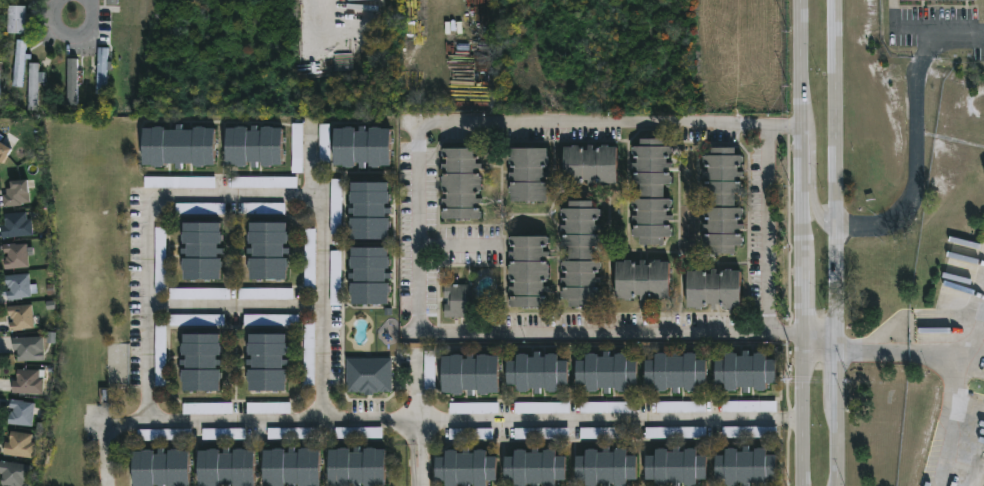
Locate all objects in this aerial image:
building: (937, 0)
building: (112, 3)
road: (324, 12)
road: (918, 28)
building: (20, 30)
road: (73, 34)
building: (19, 64)
building: (33, 67)
building: (102, 70)
building: (85, 80)
building: (72, 81)
building: (34, 85)
building: (0, 95)
road: (913, 133)
building: (324, 144)
building: (177, 145)
building: (252, 145)
building: (361, 146)
building: (297, 148)
building: (3, 150)
building: (590, 164)
building: (528, 173)
building: (179, 182)
building: (264, 182)
building: (461, 182)
building: (652, 191)
road: (811, 191)
building: (15, 193)
road: (235, 194)
building: (723, 199)
building: (263, 209)
building: (370, 210)
building: (16, 225)
road: (417, 225)
road: (766, 227)
road: (803, 242)
road: (833, 243)
road: (456, 245)
building: (201, 250)
building: (267, 250)
building: (581, 253)
building: (15, 255)
building: (160, 260)
building: (529, 270)
building: (370, 275)
building: (335, 278)
building: (643, 279)
building: (17, 286)
building: (714, 288)
building: (199, 294)
building: (266, 294)
building: (457, 300)
road: (233, 304)
building: (20, 316)
building: (196, 320)
building: (271, 320)
road: (819, 341)
building: (28, 347)
road: (925, 348)
building: (309, 354)
building: (160, 355)
building: (200, 362)
building: (267, 362)
building: (676, 371)
building: (746, 371)
building: (537, 372)
building: (607, 372)
building: (430, 373)
building: (470, 374)
building: (368, 375)
building: (27, 382)
road: (417, 387)
building: (733, 406)
building: (683, 407)
building: (264, 408)
building: (465, 408)
building: (207, 409)
building: (21, 413)
road: (954, 416)
road: (611, 420)
road: (263, 423)
building: (655, 432)
building: (290, 433)
building: (359, 433)
building: (224, 434)
building: (161, 435)
building: (19, 445)
building: (747, 466)
building: (225, 467)
building: (291, 467)
building: (357, 467)
building: (607, 467)
building: (677, 467)
building: (160, 468)
building: (466, 468)
building: (535, 468)
building: (14, 473)

